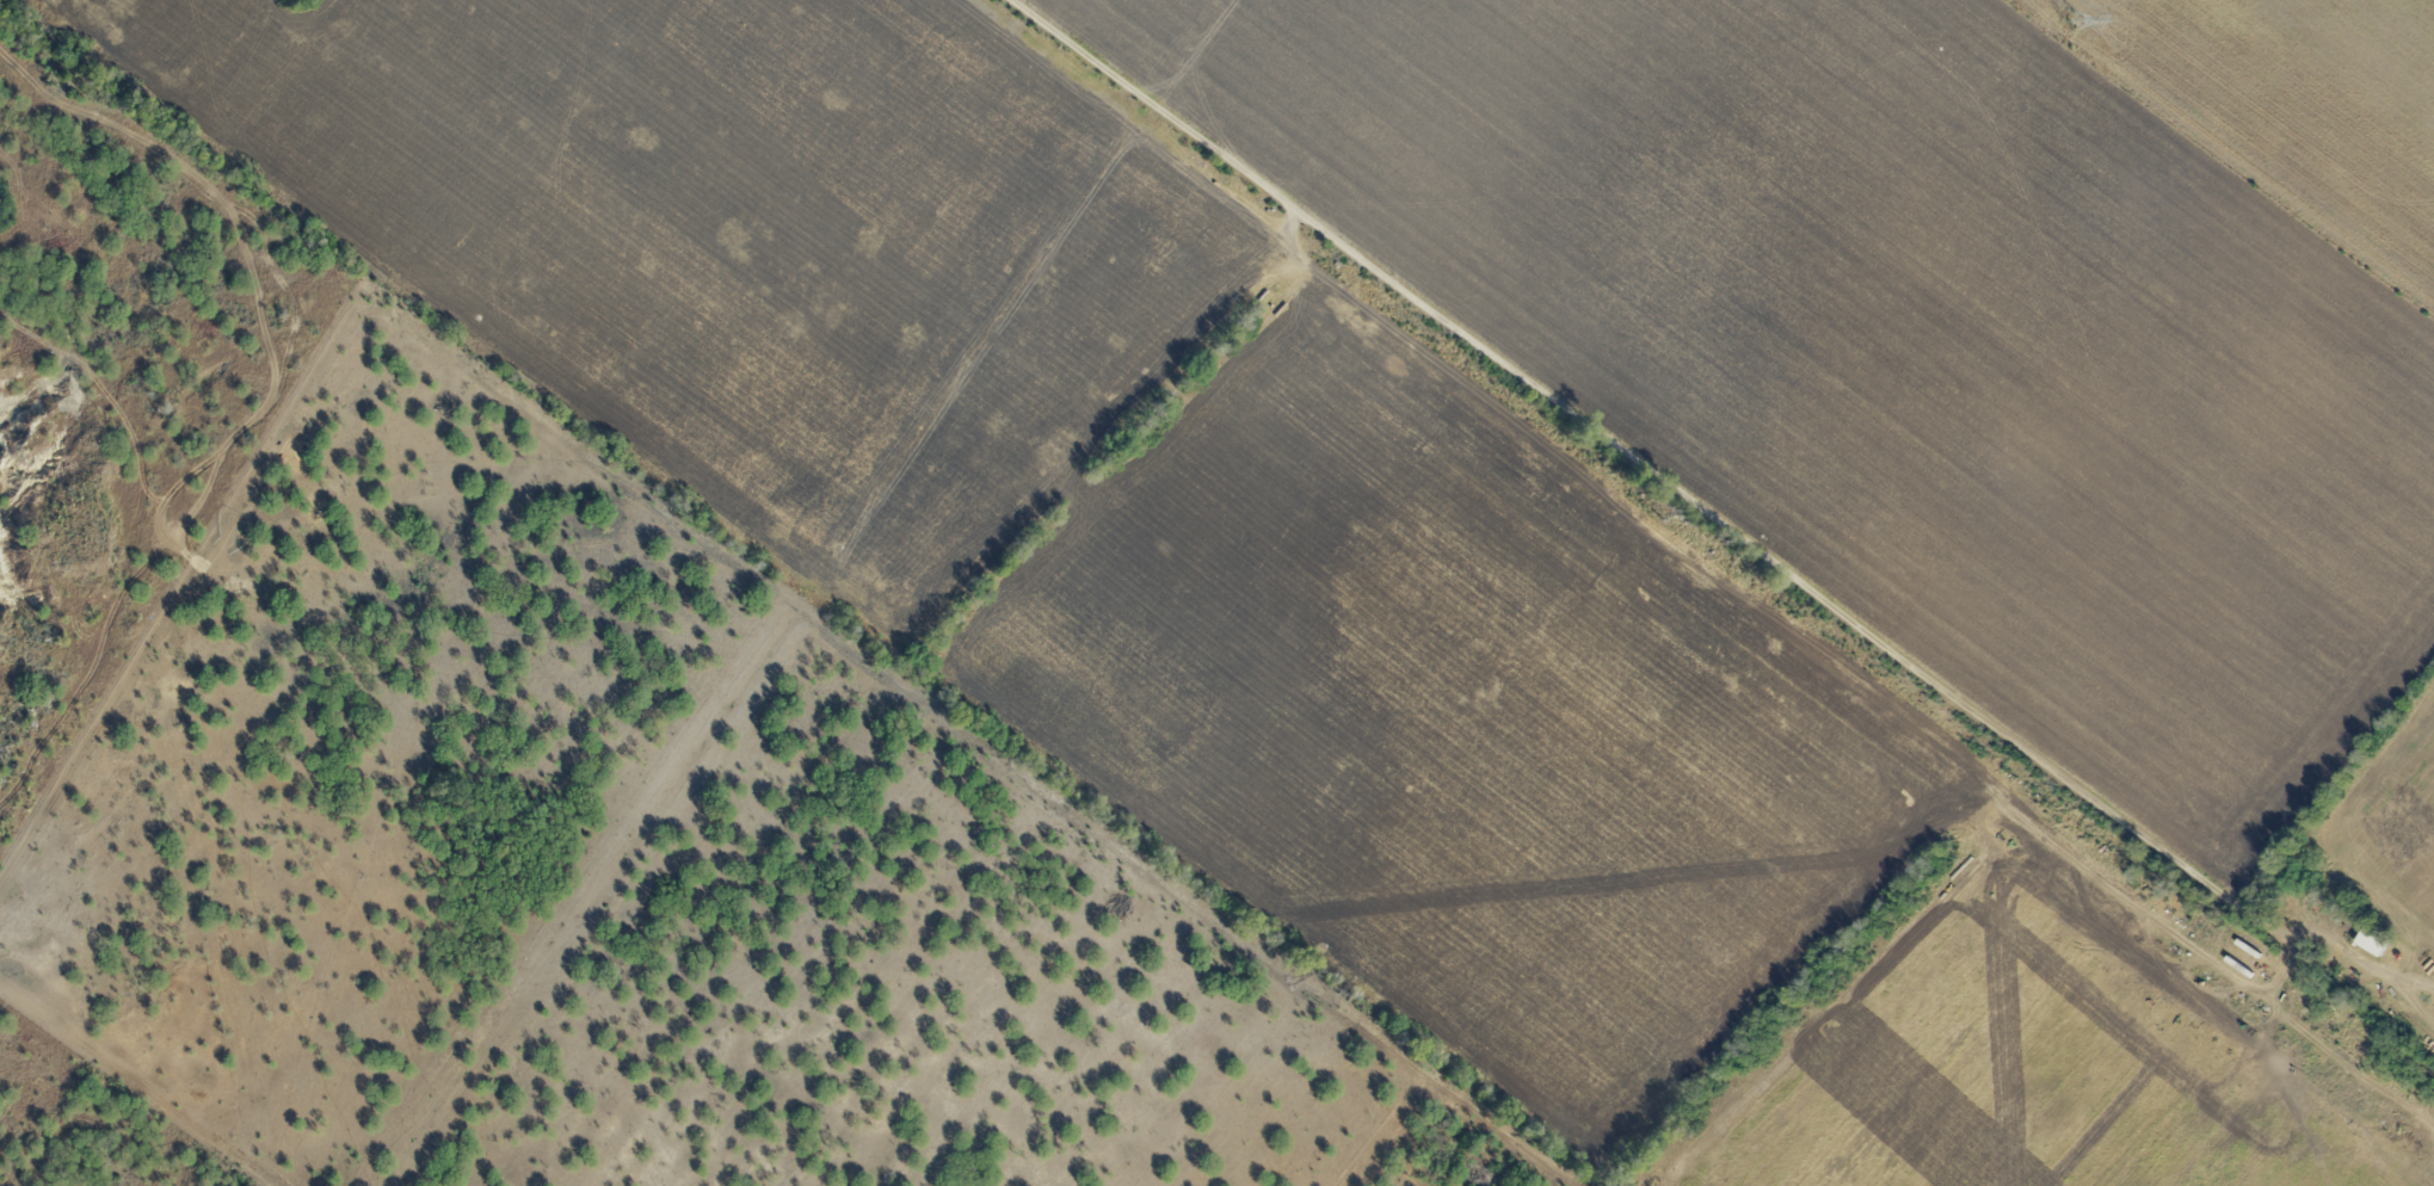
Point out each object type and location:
power tower: (2072, 17)
road: (1650, 474)
quarry: (283, 666)
building: (2372, 941)

